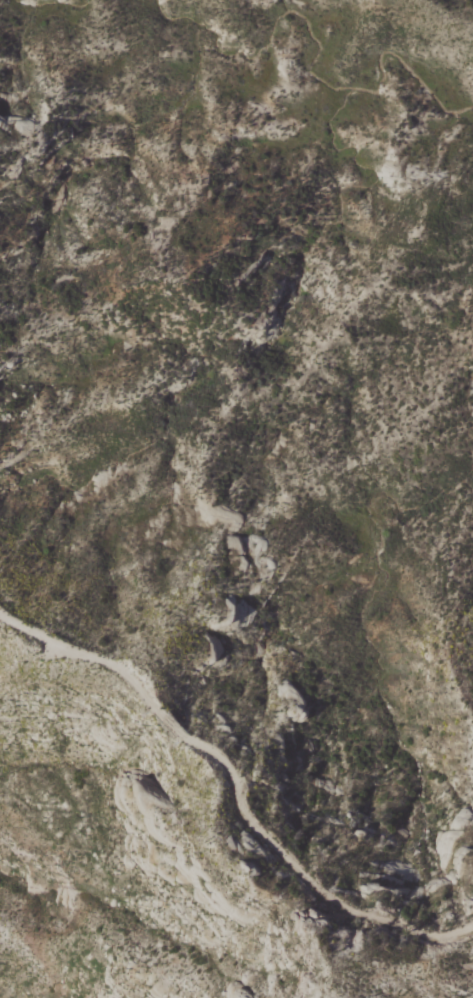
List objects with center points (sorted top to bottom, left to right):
road: (239, 784)

